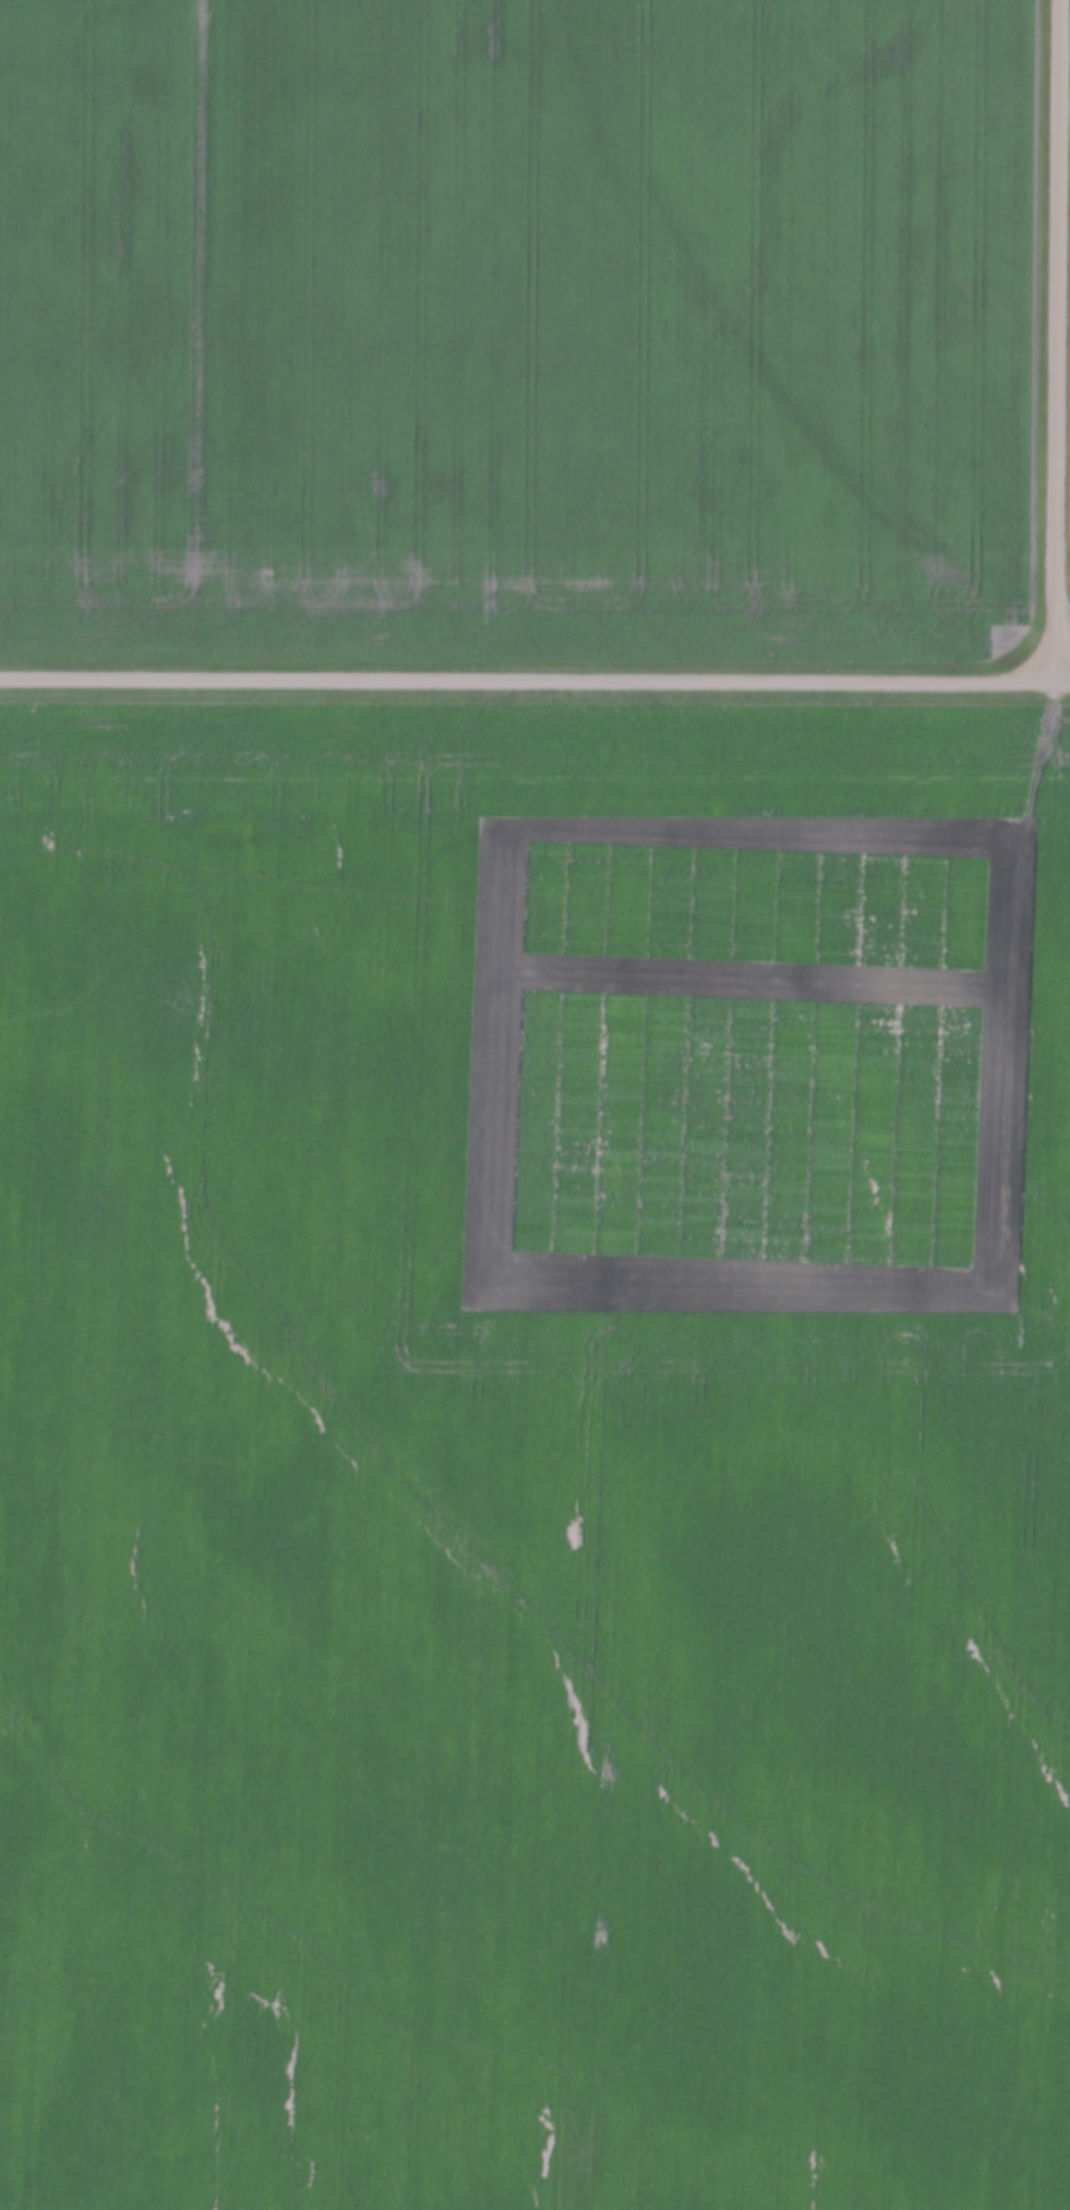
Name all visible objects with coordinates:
road: (1037, 341)
road: (534, 681)

